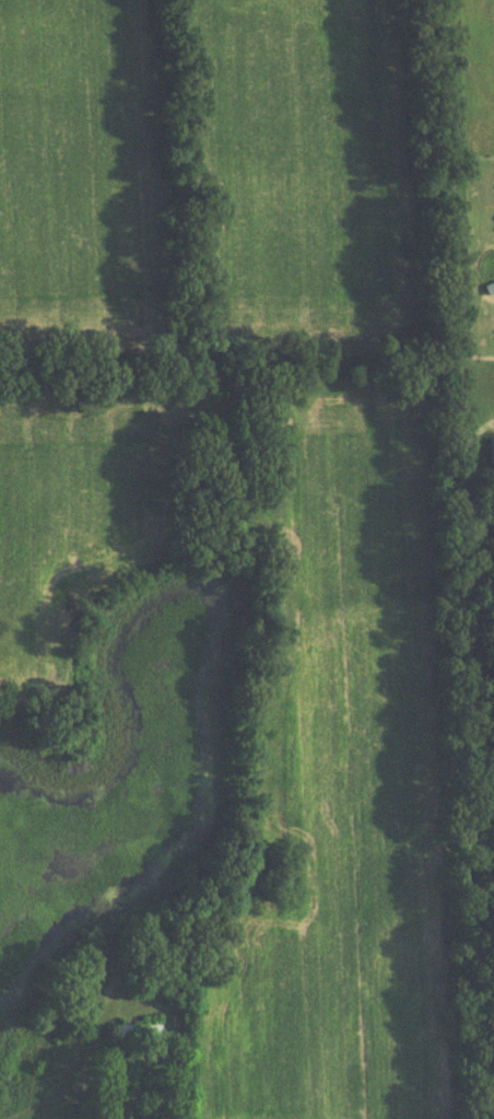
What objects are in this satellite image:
building: (490, 292)
building: (492, 454)
building: (137, 1033)

